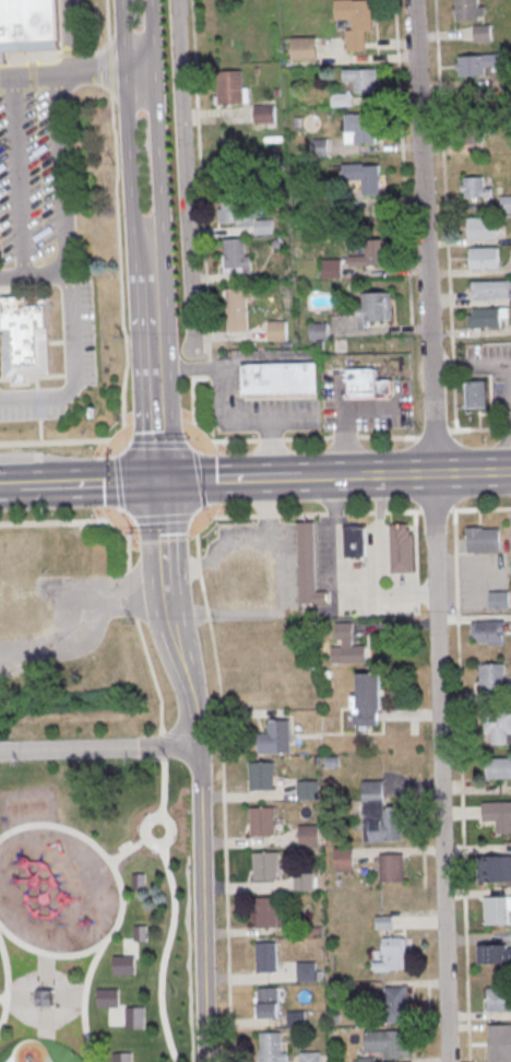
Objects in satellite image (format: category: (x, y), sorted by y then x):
building: (468, 11)
building: (357, 22)
building: (29, 26)
building: (483, 35)
road: (74, 36)
building: (306, 50)
building: (477, 66)
road: (78, 71)
building: (363, 81)
building: (501, 83)
building: (231, 88)
building: (343, 101)
building: (265, 116)
road: (126, 118)
road: (158, 118)
building: (363, 128)
building: (472, 133)
road: (185, 174)
road: (21, 176)
building: (365, 177)
building: (476, 189)
building: (341, 202)
building: (507, 205)
road: (64, 208)
building: (243, 215)
building: (483, 229)
building: (237, 256)
building: (372, 256)
building: (485, 260)
building: (332, 269)
building: (491, 292)
building: (378, 307)
building: (237, 311)
building: (486, 320)
building: (278, 332)
building: (319, 332)
building: (25, 337)
road: (152, 357)
road: (186, 368)
road: (471, 370)
road: (72, 371)
building: (280, 378)
building: (367, 382)
building: (476, 393)
road: (241, 420)
road: (255, 441)
road: (271, 449)
road: (472, 473)
road: (295, 479)
traffic signals: (157, 483)
road: (78, 485)
road: (480, 510)
road: (432, 511)
road: (302, 515)
road: (162, 519)
road: (66, 521)
road: (436, 530)
building: (483, 539)
building: (355, 541)
building: (402, 547)
building: (308, 565)
building: (242, 576)
road: (359, 585)
building: (20, 592)
building: (499, 599)
road: (168, 615)
building: (488, 632)
building: (347, 646)
road: (150, 669)
building: (96, 674)
building: (491, 678)
building: (369, 691)
building: (365, 717)
building: (498, 727)
building: (276, 737)
road: (97, 748)
building: (499, 768)
building: (262, 776)
road: (462, 787)
road: (223, 789)
building: (307, 790)
building: (380, 815)
building: (499, 815)
road: (150, 821)
building: (263, 822)
building: (309, 835)
road: (129, 850)
building: (344, 859)
building: (265, 865)
building: (393, 868)
building: (495, 869)
building: (140, 882)
building: (304, 882)
road: (121, 897)
road: (202, 904)
building: (497, 910)
park: (94, 911)
building: (266, 912)
building: (384, 922)
building: (141, 934)
road: (165, 953)
building: (394, 953)
building: (495, 953)
building: (266, 957)
building: (124, 966)
building: (307, 971)
road: (7, 981)
road: (4, 999)
building: (108, 999)
building: (500, 1000)
building: (269, 1002)
road: (85, 1003)
building: (397, 1004)
building: (136, 1018)
building: (296, 1019)
building: (500, 1042)
building: (388, 1045)
building: (272, 1047)
building: (310, 1057)
building: (122, 1058)
building: (367, 1060)

